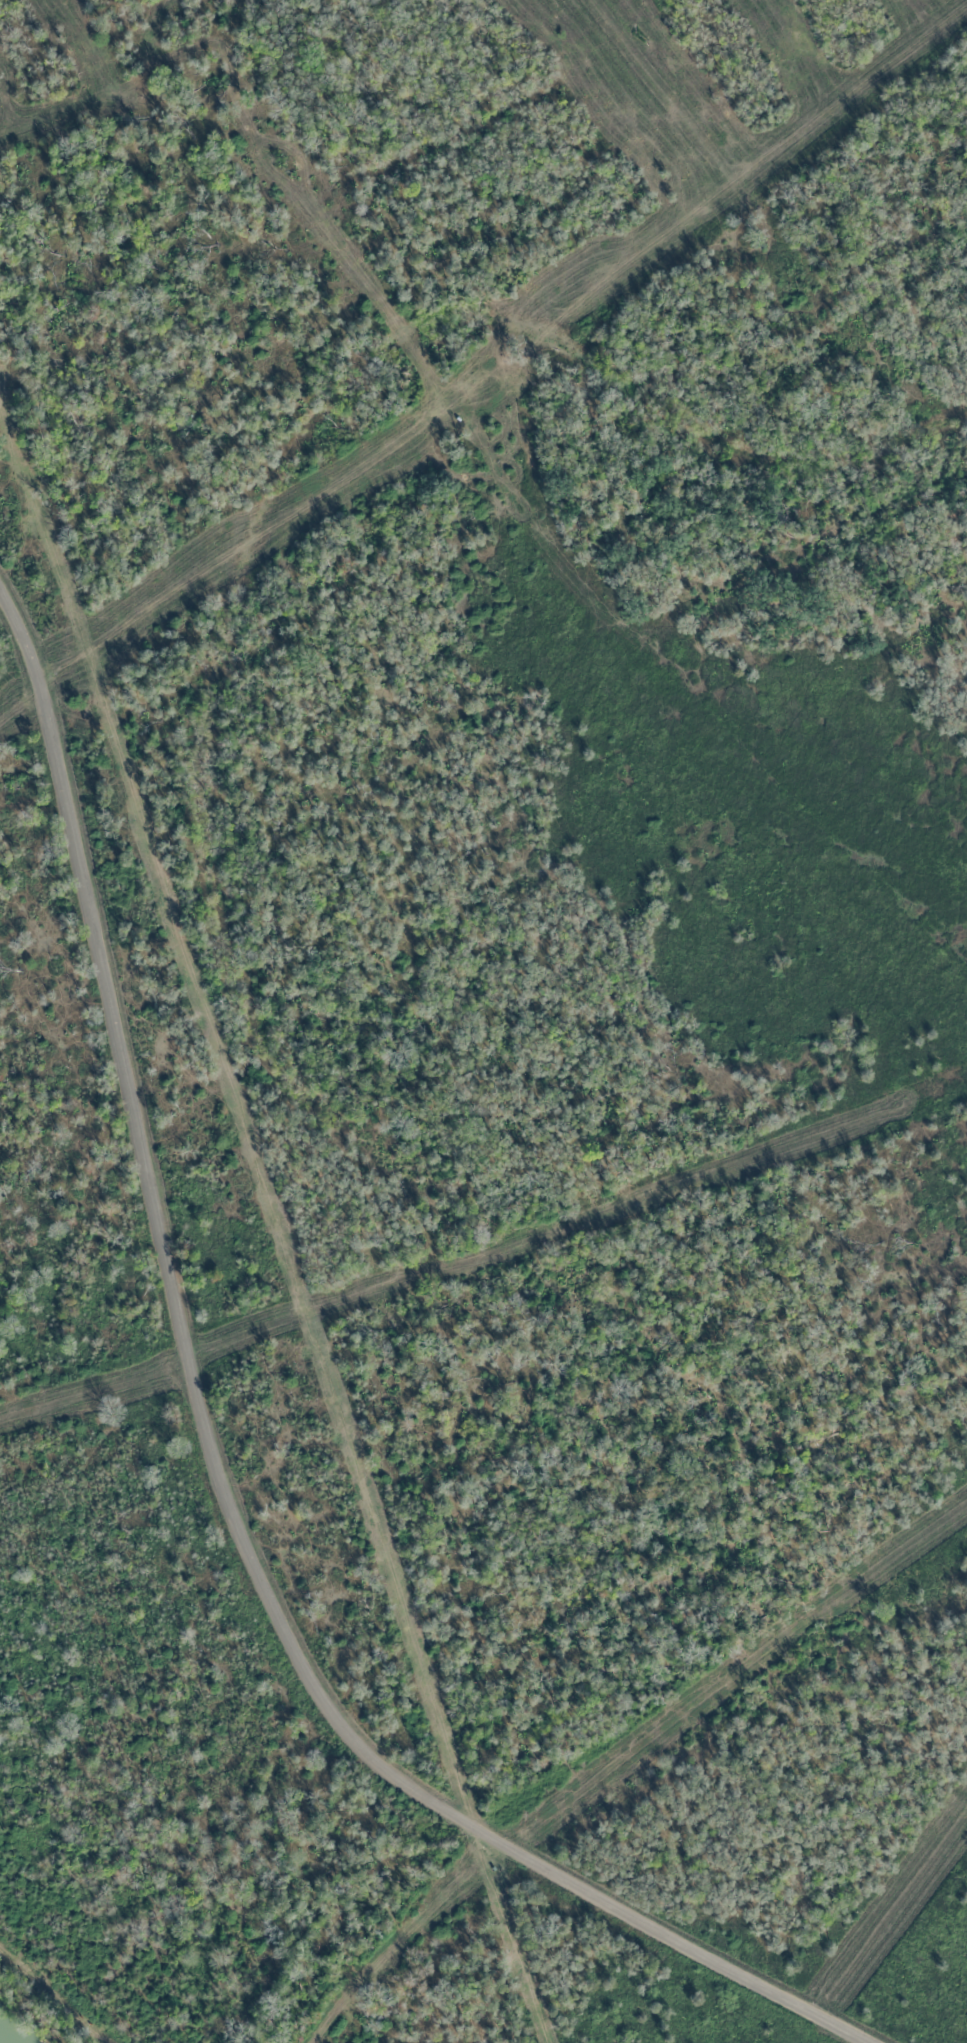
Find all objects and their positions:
road: (224, 1470)
road: (72, 1971)

